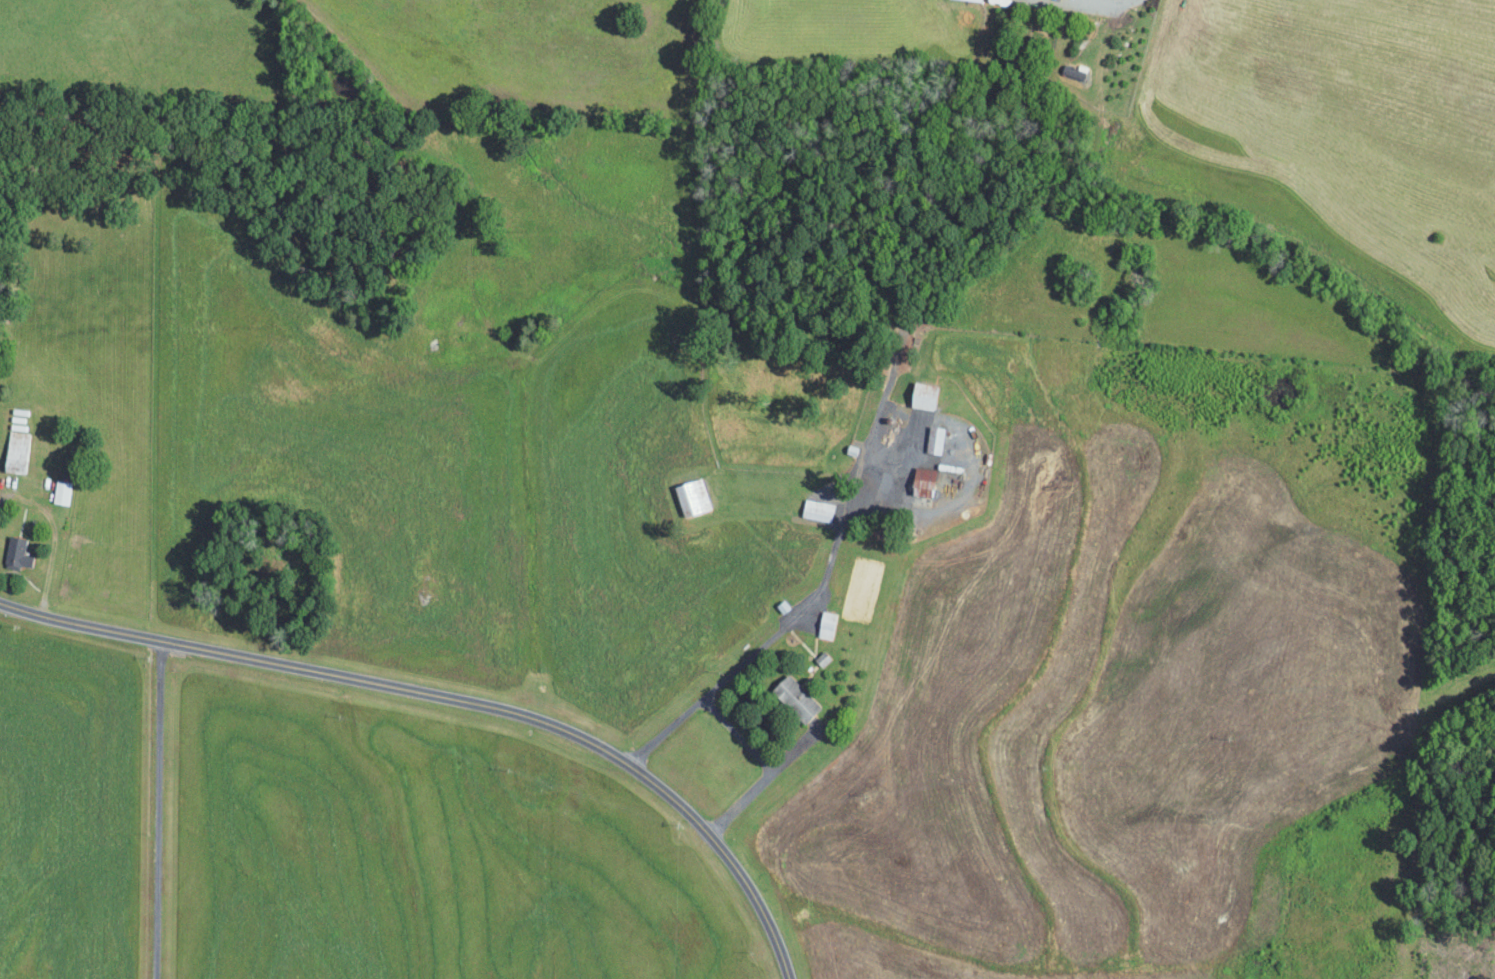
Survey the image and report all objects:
road: (1108, 1)
building: (922, 396)
building: (933, 440)
building: (15, 452)
building: (922, 481)
building: (60, 492)
building: (690, 497)
building: (816, 510)
road: (52, 541)
building: (16, 553)
building: (825, 625)
road: (783, 627)
building: (793, 698)
road: (449, 700)
road: (767, 784)
road: (157, 813)

